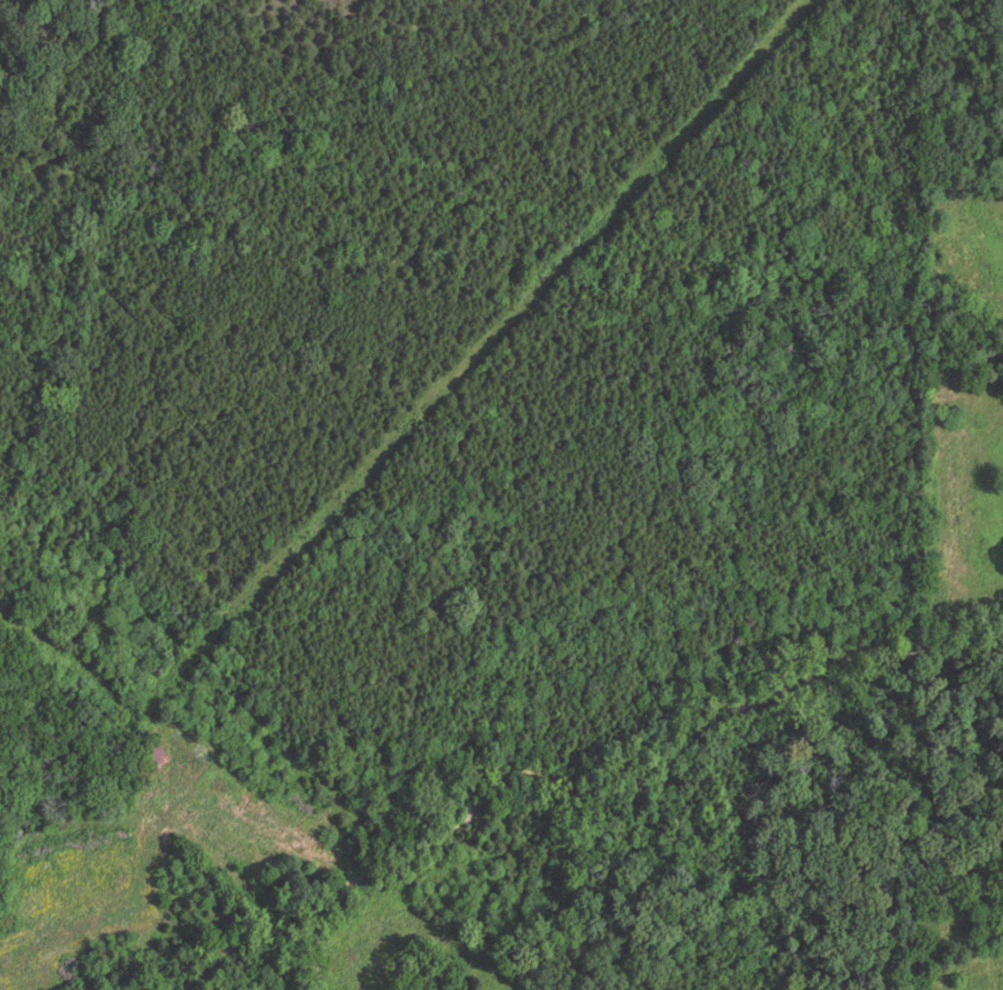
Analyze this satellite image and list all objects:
road: (200, 891)

